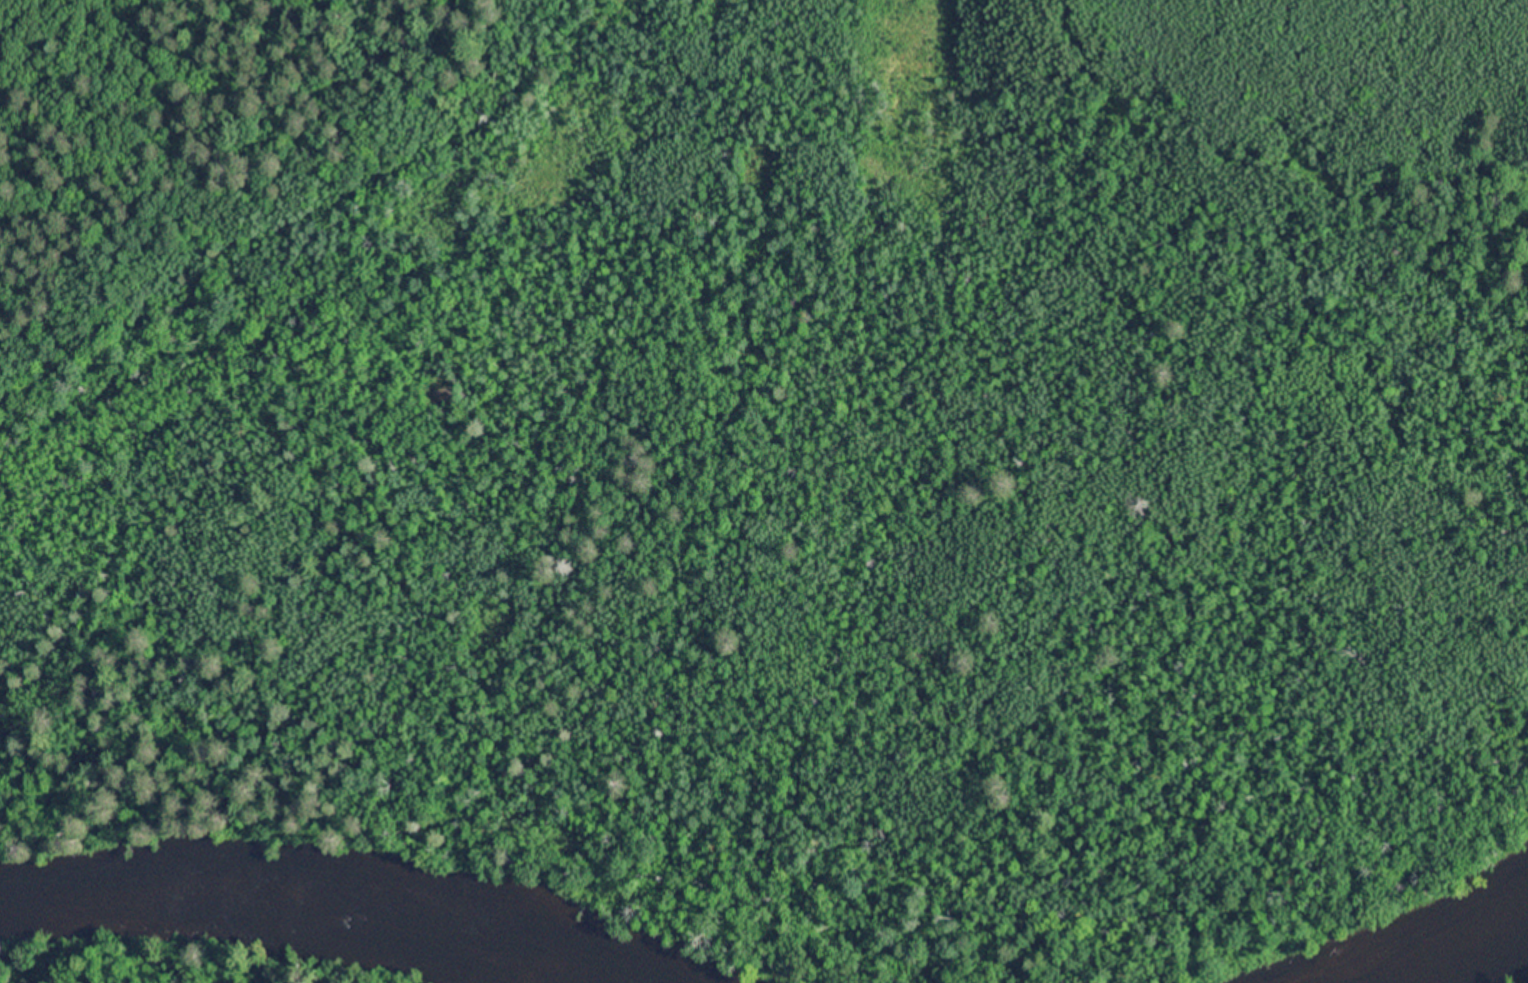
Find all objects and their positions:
river: (310, 906)
river: (1464, 941)

